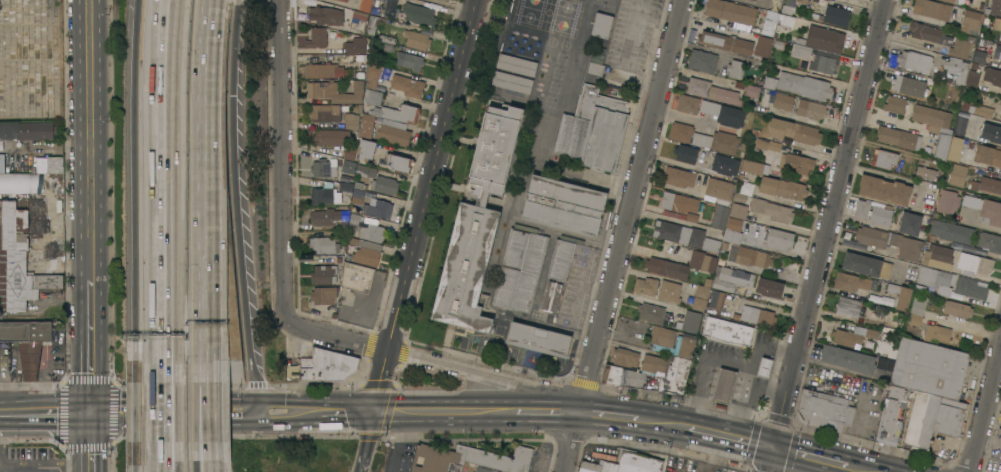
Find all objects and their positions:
building: (344, 0)
building: (447, 0)
building: (451, 0)
building: (754, 0)
building: (952, 1)
building: (543, 2)
building: (793, 2)
building: (970, 2)
road: (457, 4)
building: (365, 5)
building: (994, 7)
building: (932, 9)
building: (731, 11)
building: (419, 14)
building: (326, 15)
building: (833, 15)
building: (527, 20)
building: (787, 20)
building: (358, 21)
building: (971, 21)
building: (373, 23)
building: (770, 23)
building: (997, 23)
building: (602, 25)
road: (715, 26)
building: (930, 33)
building: (317, 37)
building: (1000, 37)
building: (523, 38)
building: (823, 38)
building: (417, 39)
building: (715, 40)
building: (777, 44)
building: (356, 46)
building: (742, 46)
building: (962, 46)
building: (762, 48)
building: (602, 52)
building: (997, 52)
building: (979, 56)
building: (818, 58)
building: (410, 60)
building: (702, 60)
park: (33, 61)
building: (915, 61)
building: (516, 64)
building: (758, 65)
building: (595, 68)
building: (735, 68)
building: (957, 68)
building: (325, 70)
building: (992, 76)
building: (973, 80)
building: (512, 82)
building: (372, 85)
building: (407, 85)
building: (800, 85)
building: (908, 86)
building: (752, 90)
building: (335, 91)
building: (712, 91)
building: (764, 96)
building: (783, 101)
building: (688, 103)
building: (1000, 103)
building: (895, 104)
building: (964, 106)
building: (811, 109)
building: (981, 110)
building: (325, 112)
building: (398, 112)
building: (723, 113)
road: (980, 118)
building: (351, 120)
building: (962, 123)
building: (366, 125)
building: (935, 126)
building: (594, 129)
building: (25, 131)
building: (681, 131)
building: (794, 131)
building: (755, 132)
building: (991, 132)
building: (391, 133)
building: (329, 136)
building: (899, 137)
road: (91, 139)
building: (717, 141)
building: (766, 145)
building: (367, 148)
building: (955, 149)
building: (349, 152)
building: (686, 153)
building: (987, 155)
building: (884, 158)
road: (282, 159)
building: (398, 162)
building: (1, 163)
building: (54, 164)
building: (725, 164)
building: (794, 164)
building: (42, 165)
building: (325, 166)
building: (348, 166)
building: (750, 167)
building: (926, 172)
building: (957, 175)
building: (679, 176)
building: (378, 179)
building: (18, 183)
building: (987, 186)
building: (719, 188)
building: (782, 188)
road: (137, 189)
building: (885, 189)
road: (207, 190)
road: (166, 191)
building: (325, 194)
building: (357, 196)
building: (738, 197)
building: (929, 197)
road: (50, 199)
building: (971, 201)
building: (679, 202)
building: (947, 202)
road: (239, 205)
road: (425, 205)
building: (565, 205)
building: (377, 208)
building: (739, 210)
building: (772, 210)
building: (874, 212)
building: (991, 212)
building: (325, 216)
building: (720, 216)
road: (673, 221)
building: (477, 222)
building: (910, 223)
building: (366, 227)
road: (78, 228)
building: (952, 231)
building: (679, 233)
road: (827, 235)
road: (624, 236)
building: (733, 236)
building: (772, 236)
building: (890, 241)
building: (989, 242)
building: (711, 244)
building: (323, 245)
building: (365, 251)
building: (731, 254)
building: (563, 257)
building: (753, 257)
building: (938, 257)
building: (702, 261)
building: (18, 262)
road: (56, 264)
road: (79, 264)
building: (973, 264)
building: (867, 265)
building: (666, 268)
building: (520, 269)
building: (324, 274)
building: (357, 277)
building: (936, 279)
building: (732, 280)
building: (853, 282)
building: (646, 286)
building: (769, 287)
building: (904, 287)
building: (703, 288)
building: (971, 288)
building: (669, 291)
building: (323, 295)
road: (56, 296)
road: (78, 296)
building: (551, 296)
road: (645, 299)
building: (699, 303)
building: (719, 303)
building: (849, 307)
building: (957, 308)
building: (917, 309)
building: (651, 313)
building: (756, 314)
building: (691, 321)
building: (727, 332)
building: (866, 332)
building: (937, 333)
road: (337, 336)
building: (846, 337)
building: (539, 339)
building: (27, 342)
building: (671, 342)
road: (92, 345)
building: (625, 357)
road: (44, 358)
building: (848, 358)
road: (42, 361)
road: (29, 362)
building: (884, 363)
building: (328, 366)
building: (765, 367)
road: (834, 368)
building: (929, 368)
building: (667, 371)
road: (470, 373)
road: (705, 375)
road: (749, 375)
building: (622, 376)
building: (725, 385)
road: (18, 388)
road: (767, 389)
road: (985, 409)
road: (137, 410)
building: (824, 410)
road: (174, 411)
road: (208, 411)
traffic signals: (256, 411)
road: (288, 411)
road: (46, 412)
traffic signals: (93, 412)
road: (348, 412)
traffic signals: (376, 412)
road: (444, 412)
road: (546, 412)
road: (170, 413)
road: (607, 416)
building: (892, 416)
building: (932, 417)
road: (662, 422)
road: (731, 438)
road: (93, 442)
road: (368, 442)
road: (398, 442)
road: (209, 449)
traffic signals: (774, 449)
road: (137, 456)
road: (169, 458)
road: (171, 458)
road: (810, 458)
building: (468, 459)
road: (46, 464)
building: (624, 464)
road: (209, 465)
road: (210, 465)
road: (856, 469)
building: (491, 470)
building: (688, 471)

